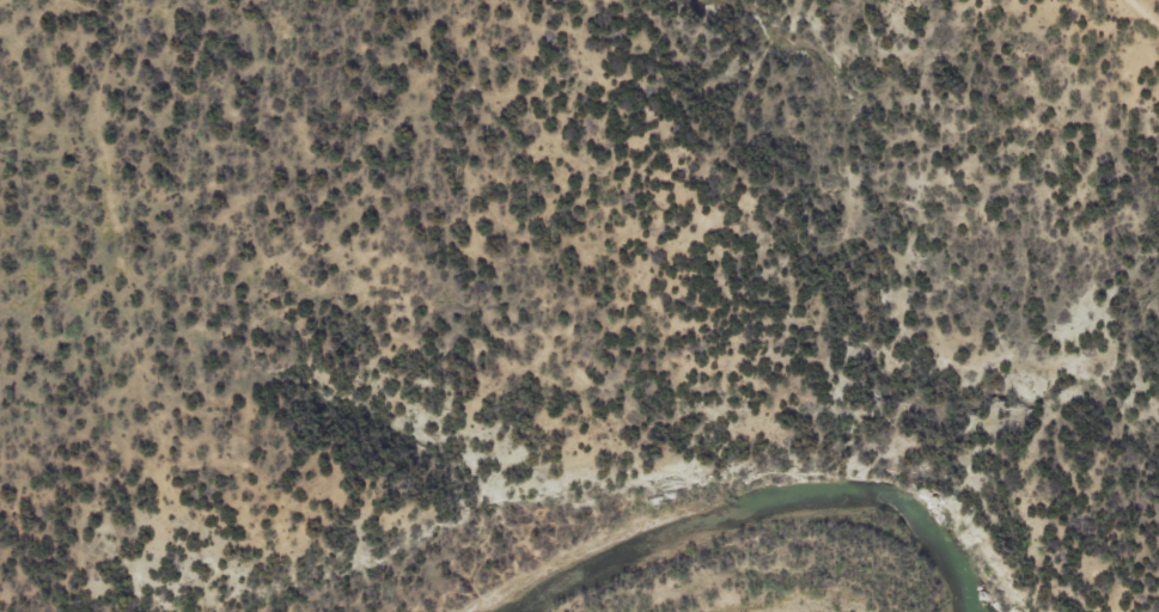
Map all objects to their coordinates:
river: (764, 498)

